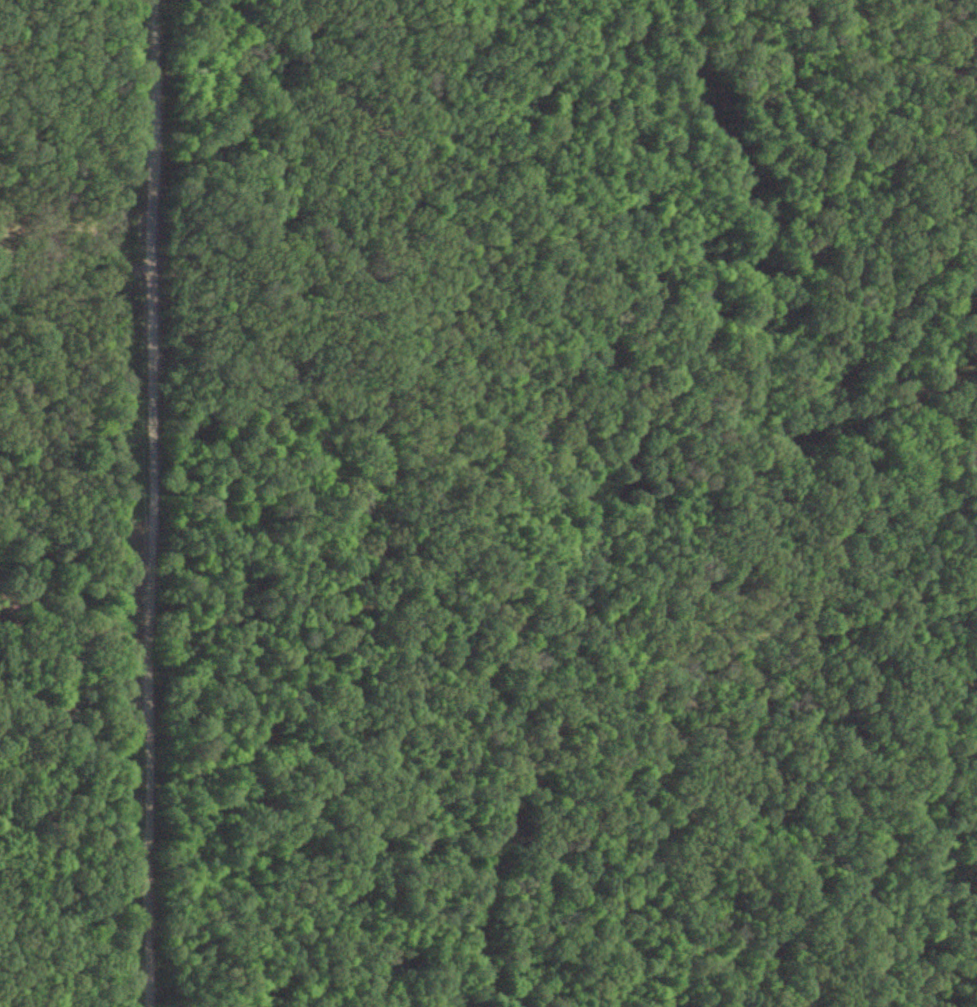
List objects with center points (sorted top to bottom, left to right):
road: (157, 503)

